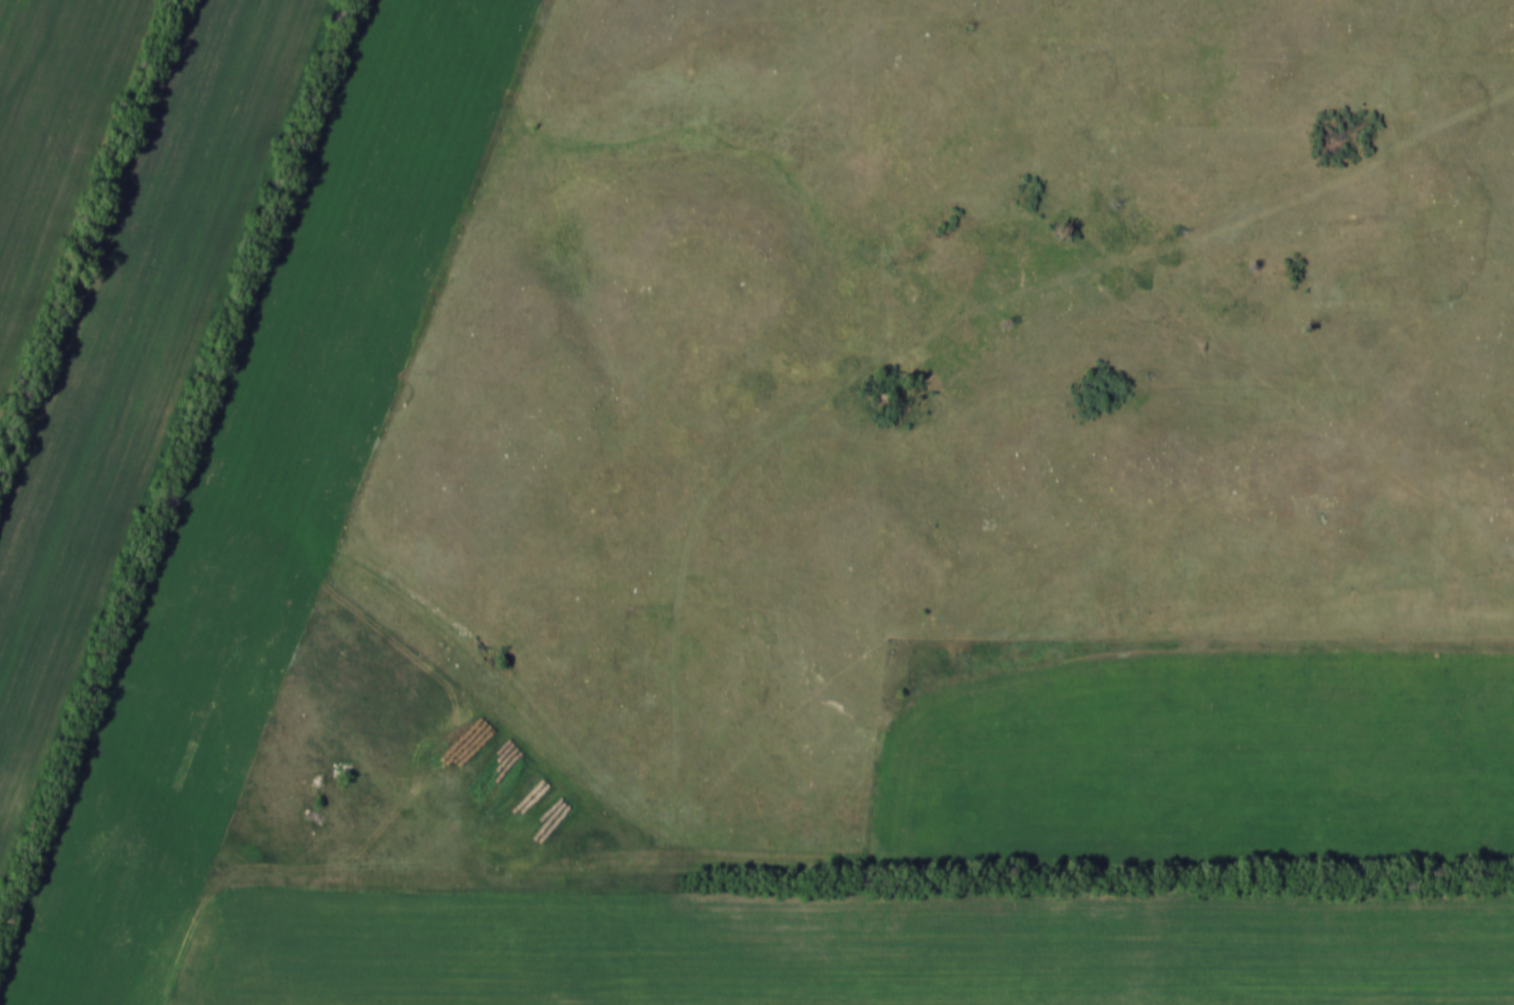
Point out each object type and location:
road: (293, 862)

